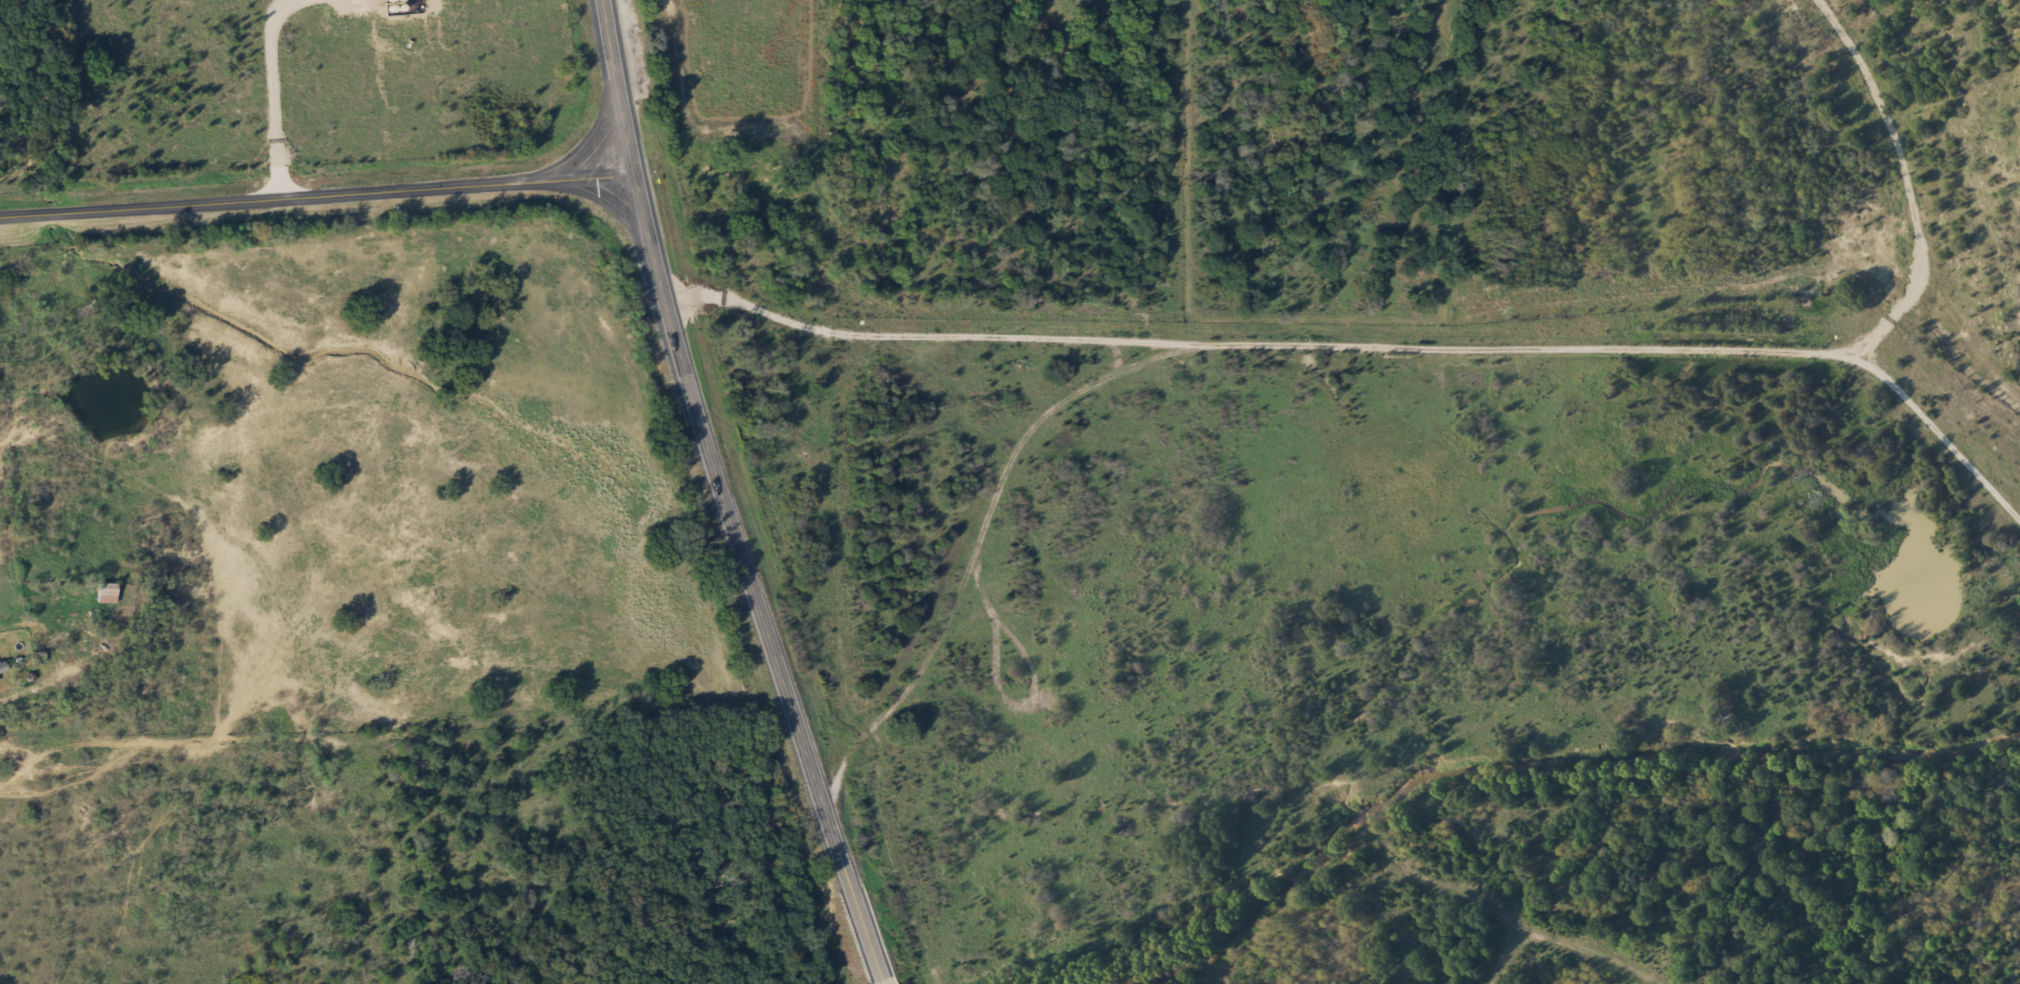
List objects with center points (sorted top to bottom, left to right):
road: (312, 195)
road: (716, 497)
road: (1376, 498)
building: (107, 593)
building: (44, 656)
building: (3, 669)

